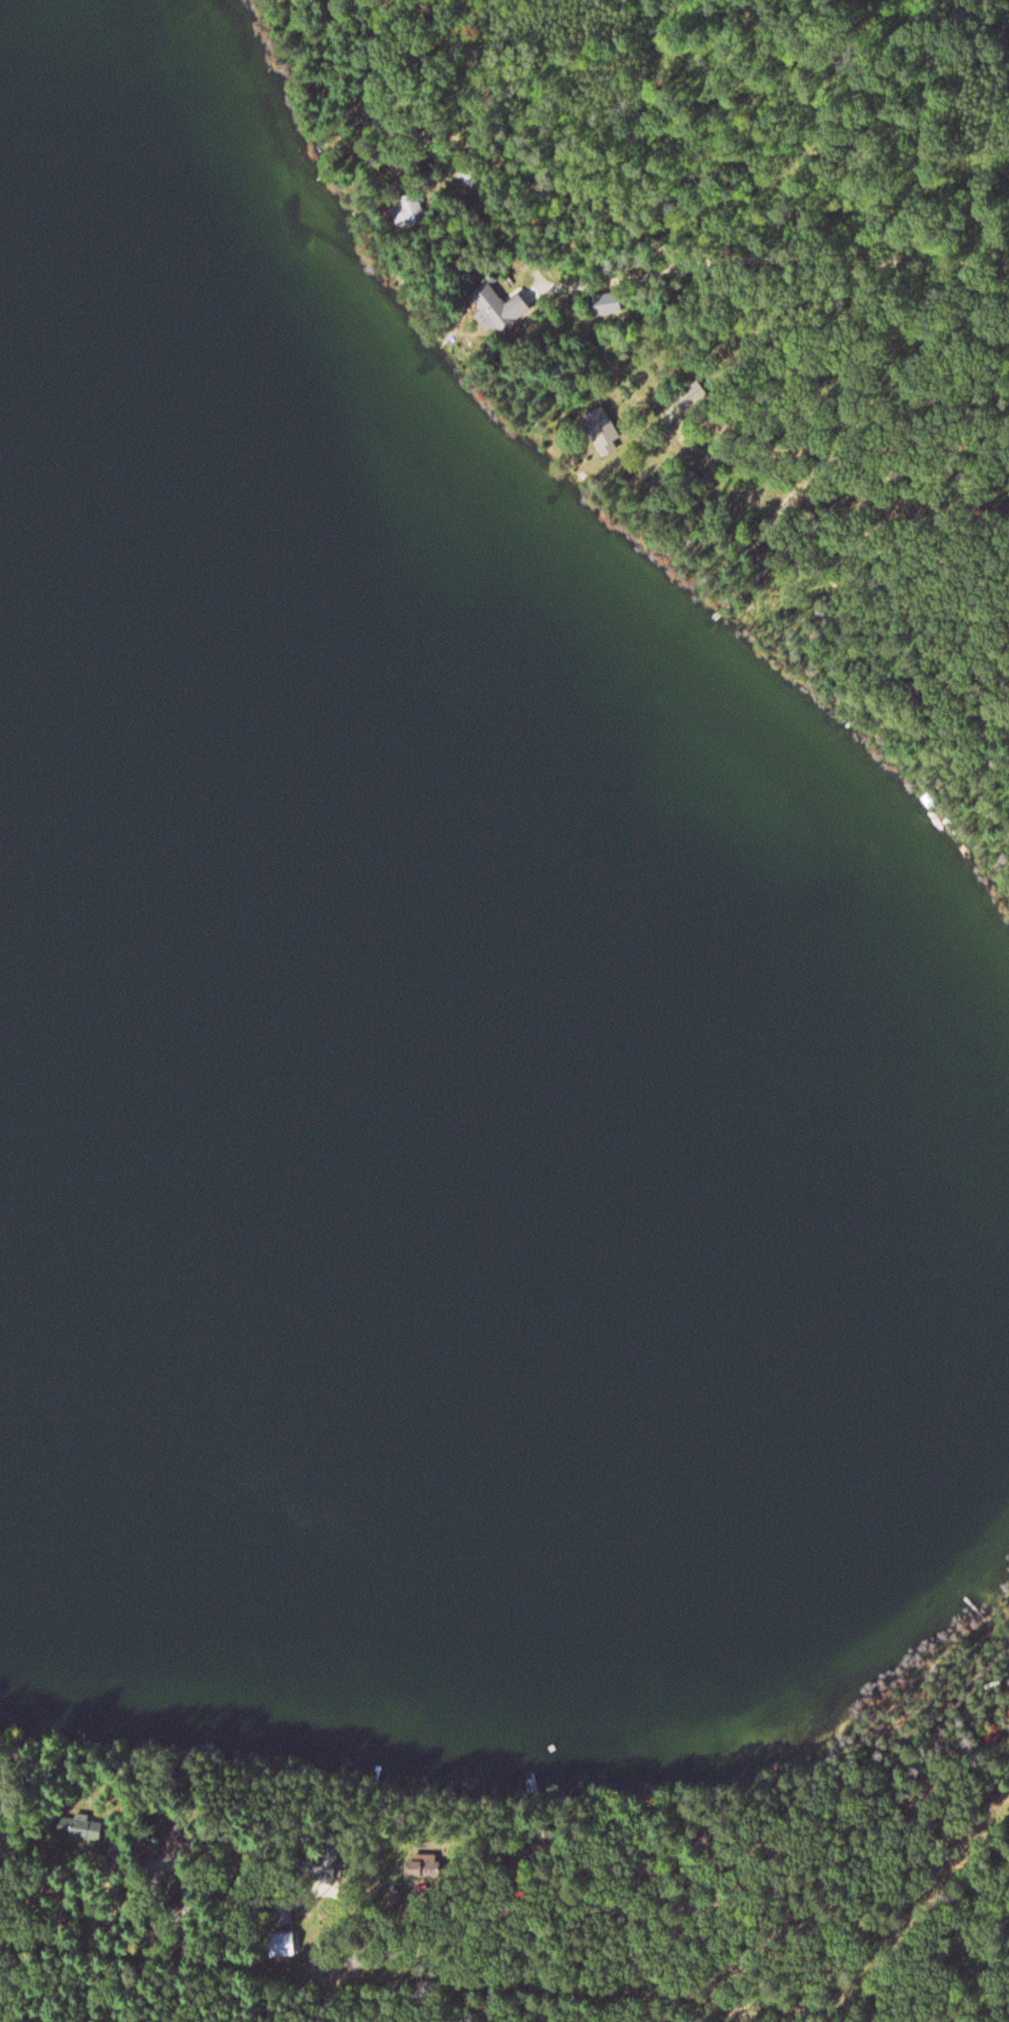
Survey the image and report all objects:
road: (546, 98)
road: (485, 129)
road: (739, 170)
building: (466, 177)
building: (407, 213)
building: (607, 306)
building: (494, 310)
road: (889, 428)
building: (599, 430)
road: (757, 490)
road: (1002, 1781)
building: (70, 1829)
road: (620, 1924)
road: (94, 1958)
road: (361, 1968)
road: (192, 1969)
road: (699, 1976)

